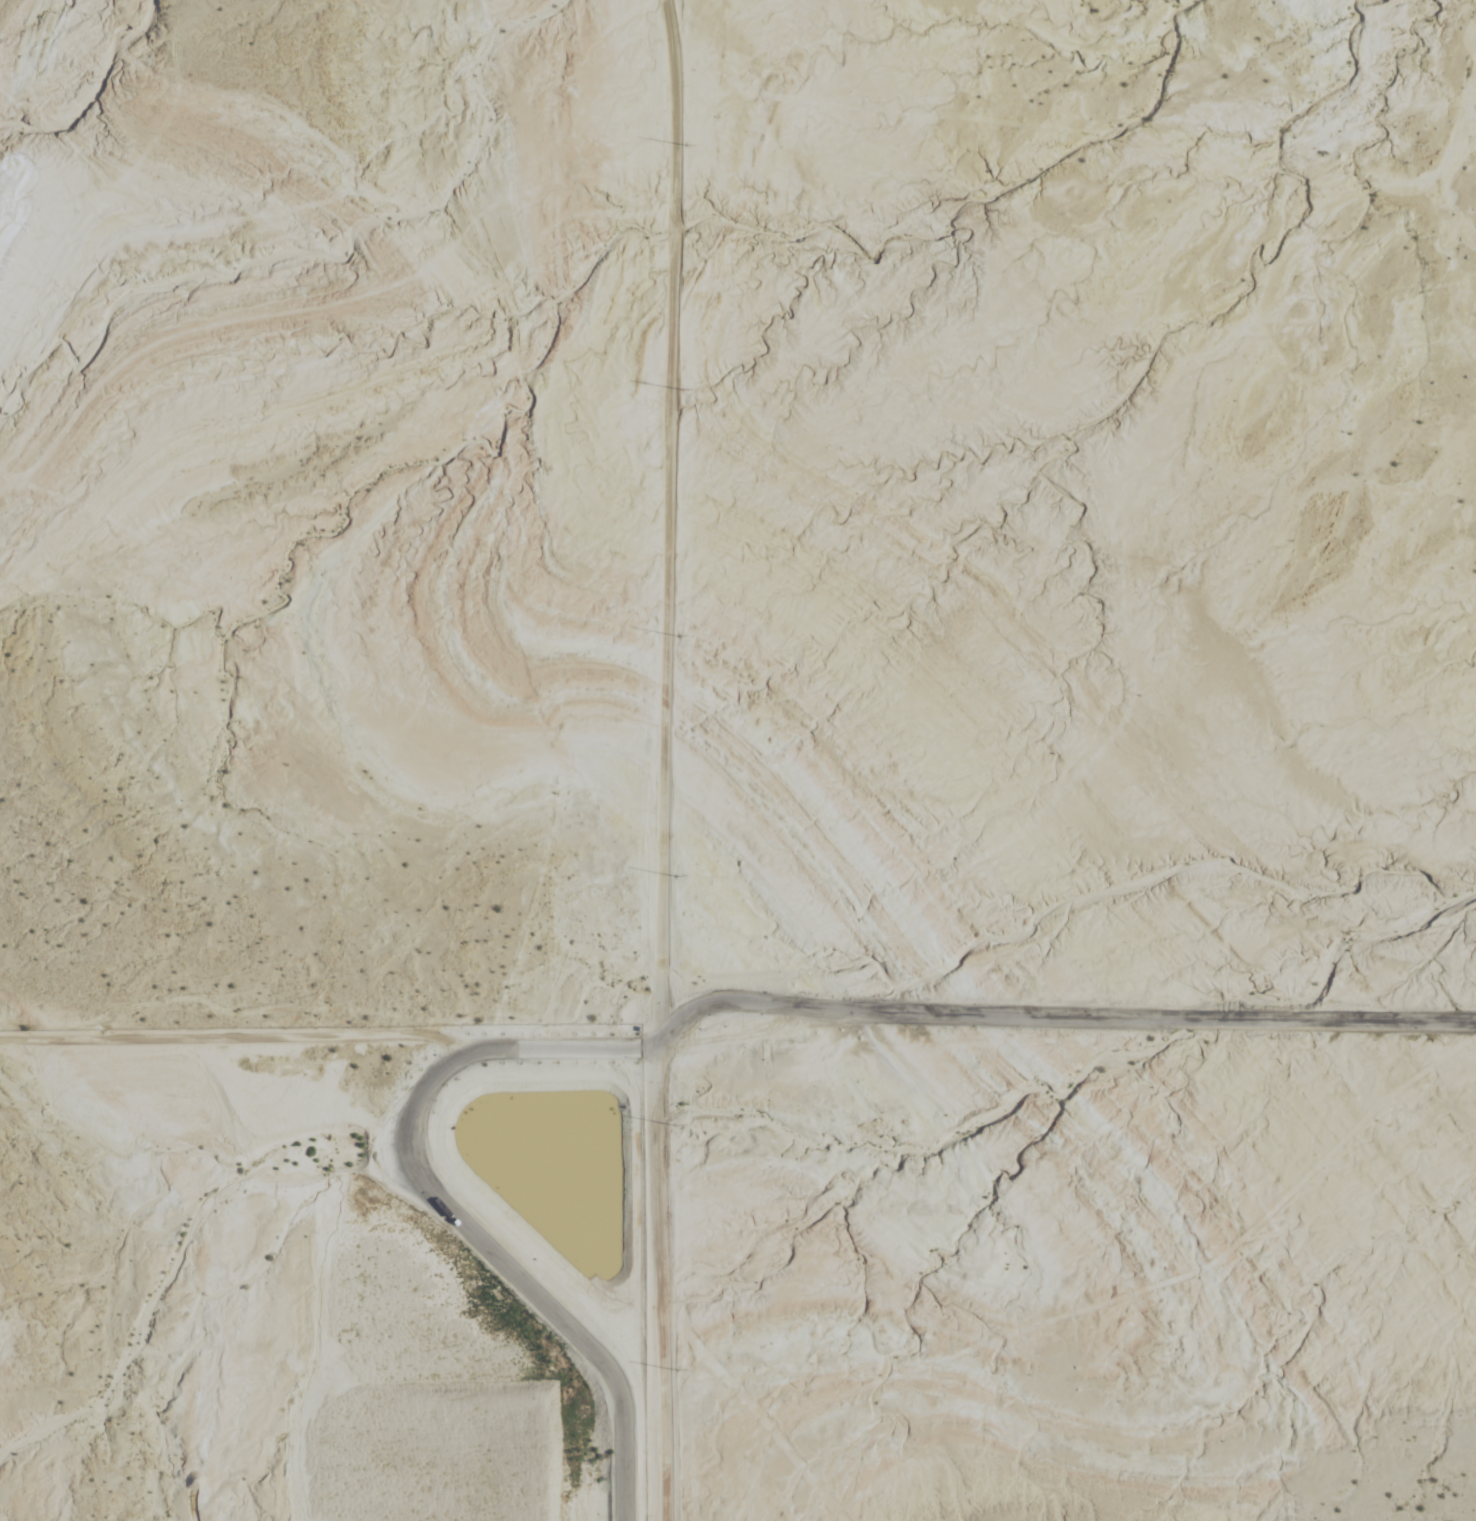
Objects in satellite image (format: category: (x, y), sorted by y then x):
road: (669, 760)
road: (681, 1016)
landfill: (321, 1281)

